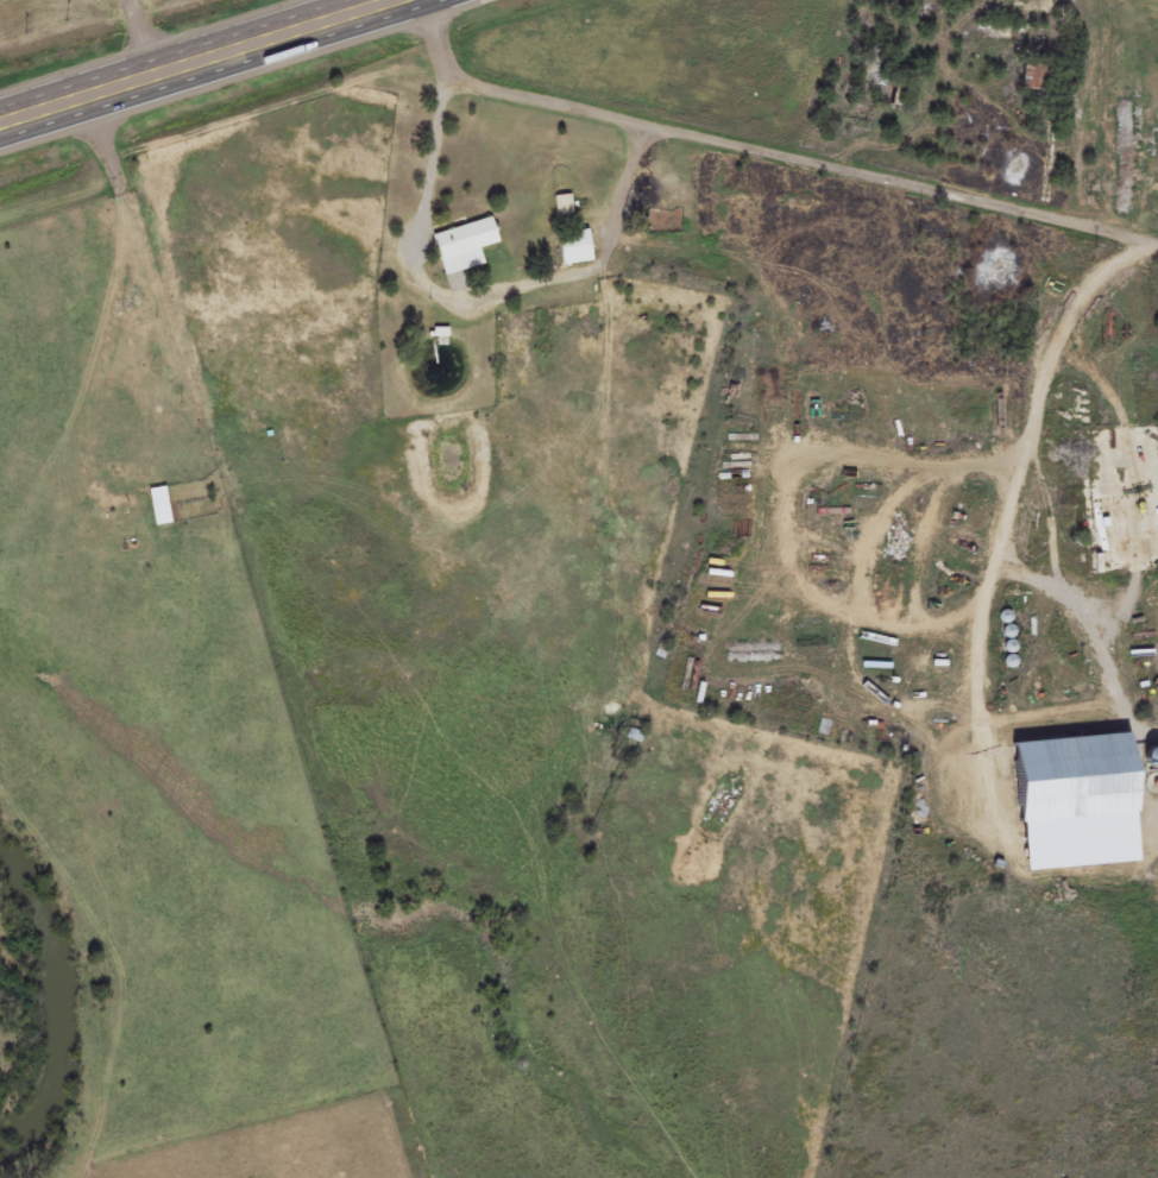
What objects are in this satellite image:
road: (184, 56)
road: (240, 73)
building: (1032, 78)
road: (761, 156)
building: (462, 247)
building: (573, 248)
building: (1001, 272)
road: (806, 447)
road: (1008, 504)
building: (159, 508)
road: (875, 621)
building: (1068, 780)

